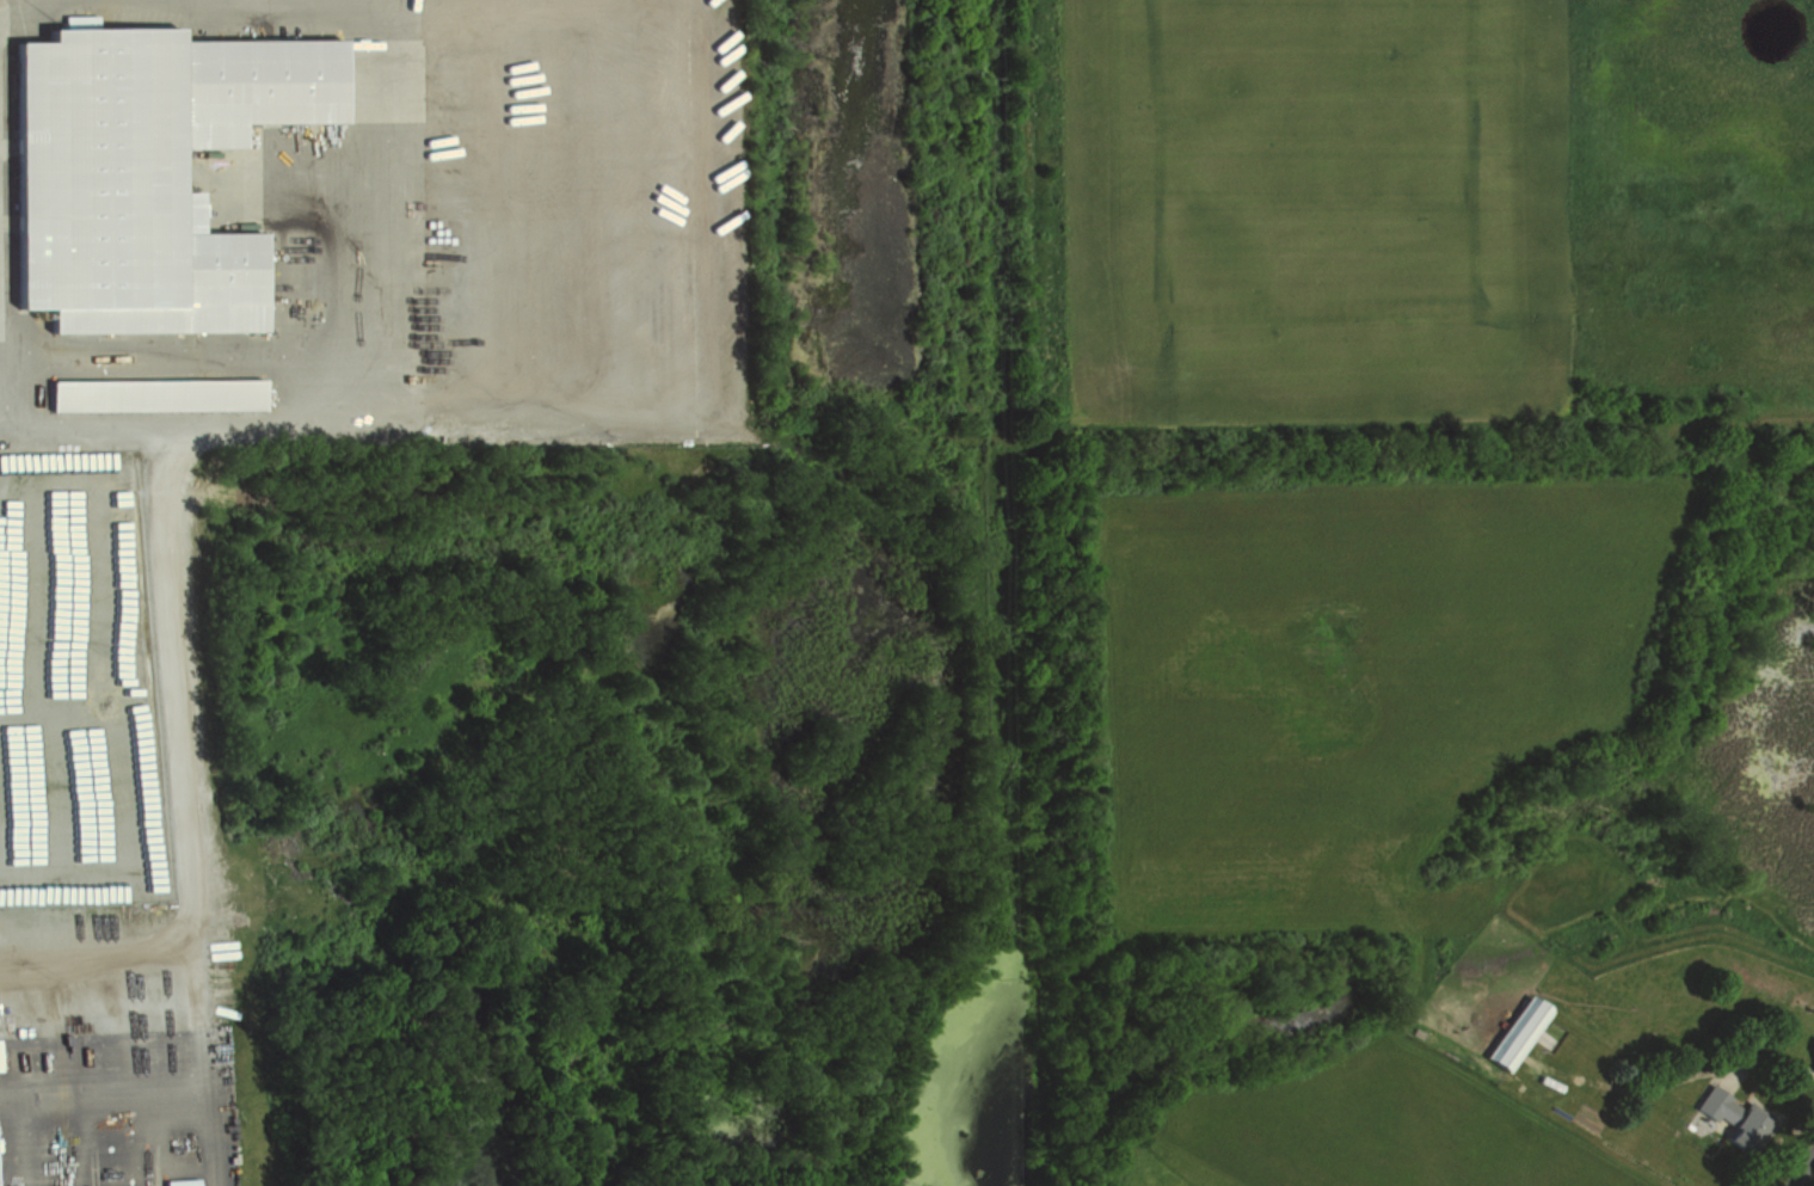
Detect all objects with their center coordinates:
building: (146, 170)
building: (156, 394)
road: (402, 416)
road: (64, 428)
road: (186, 779)
building: (1512, 1034)
road: (202, 1059)
building: (1722, 1112)
road: (1803, 1170)
building: (174, 1182)

